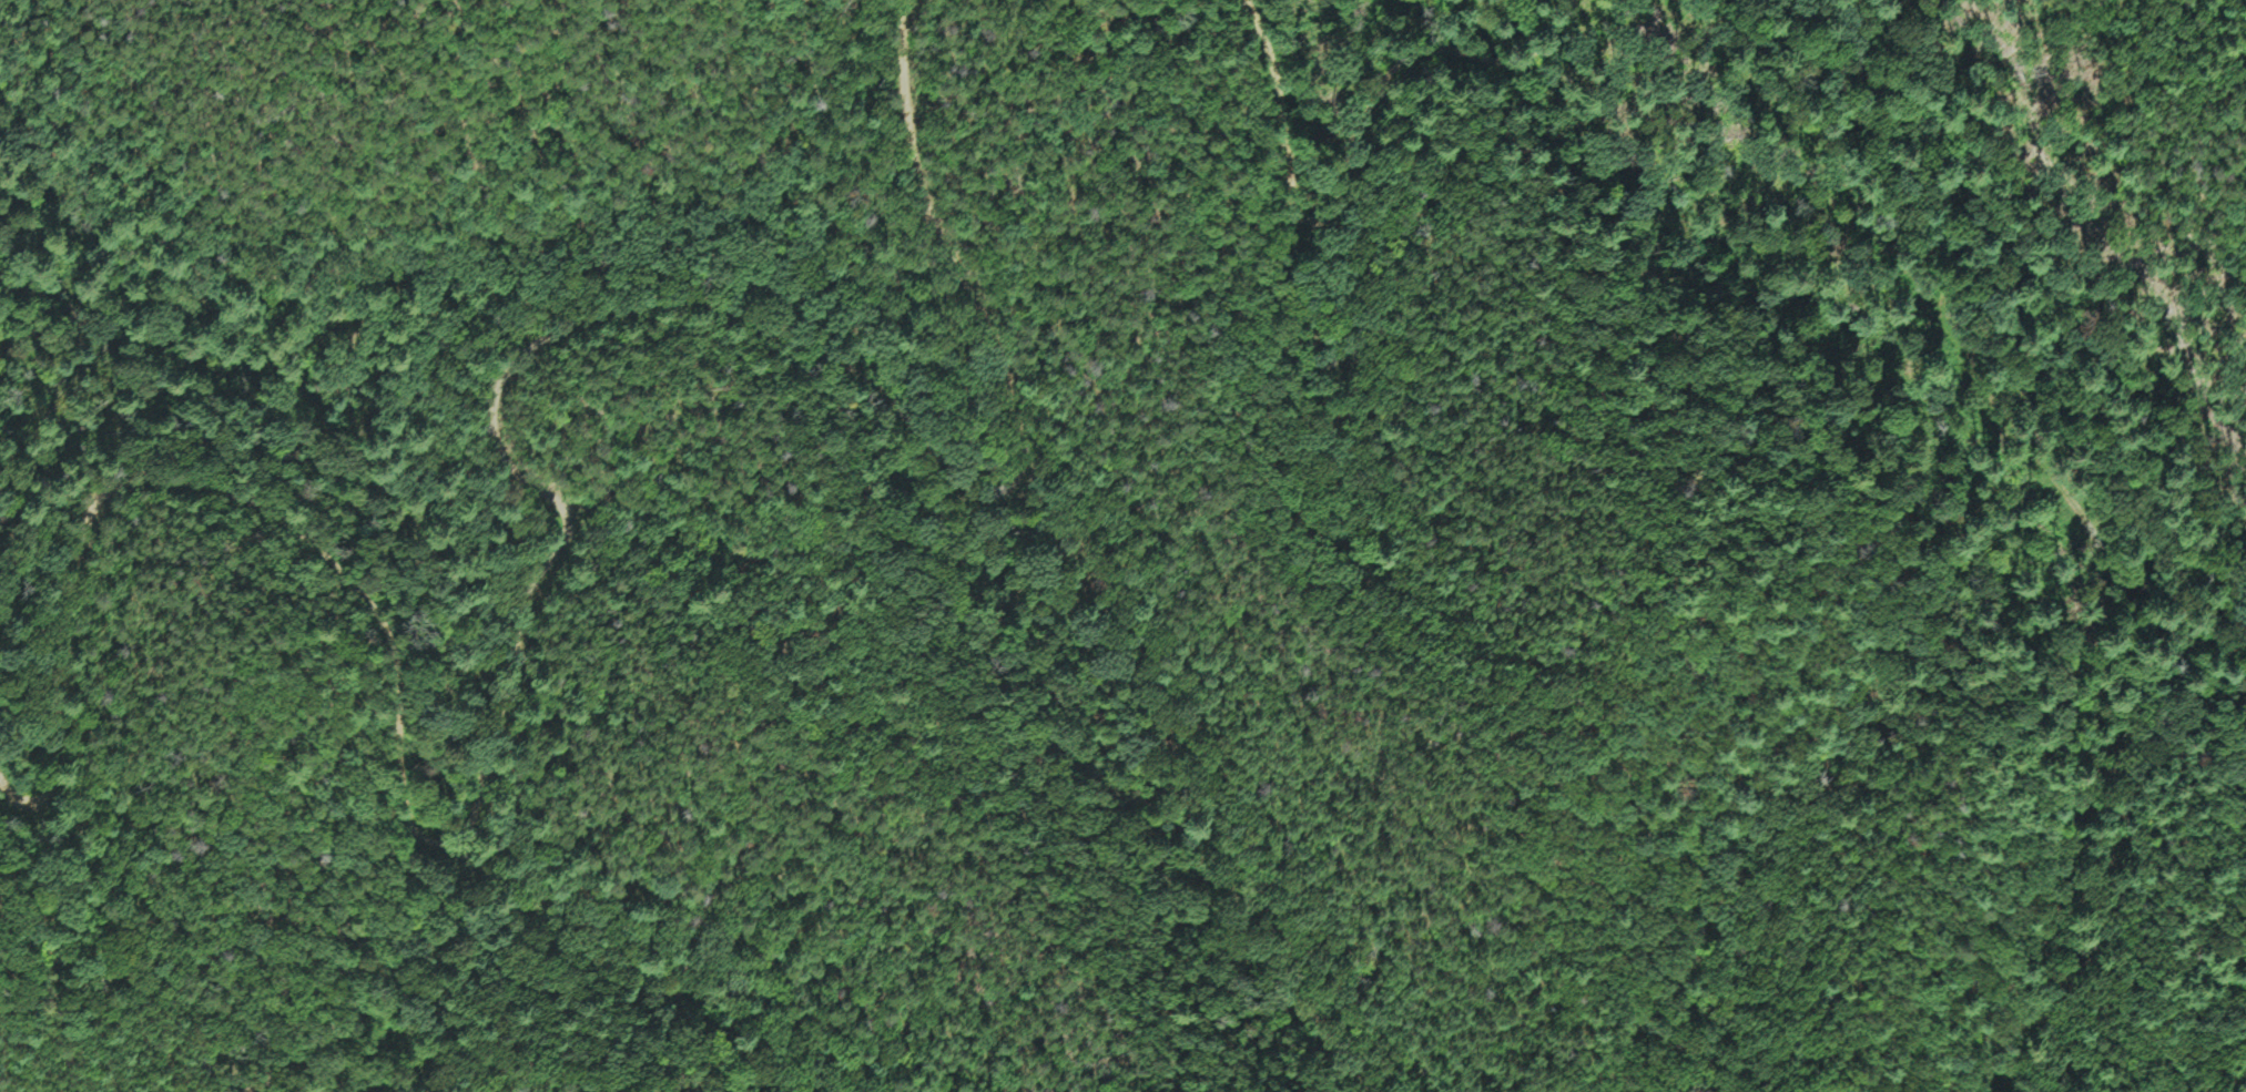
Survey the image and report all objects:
road: (1354, 173)
road: (527, 511)

